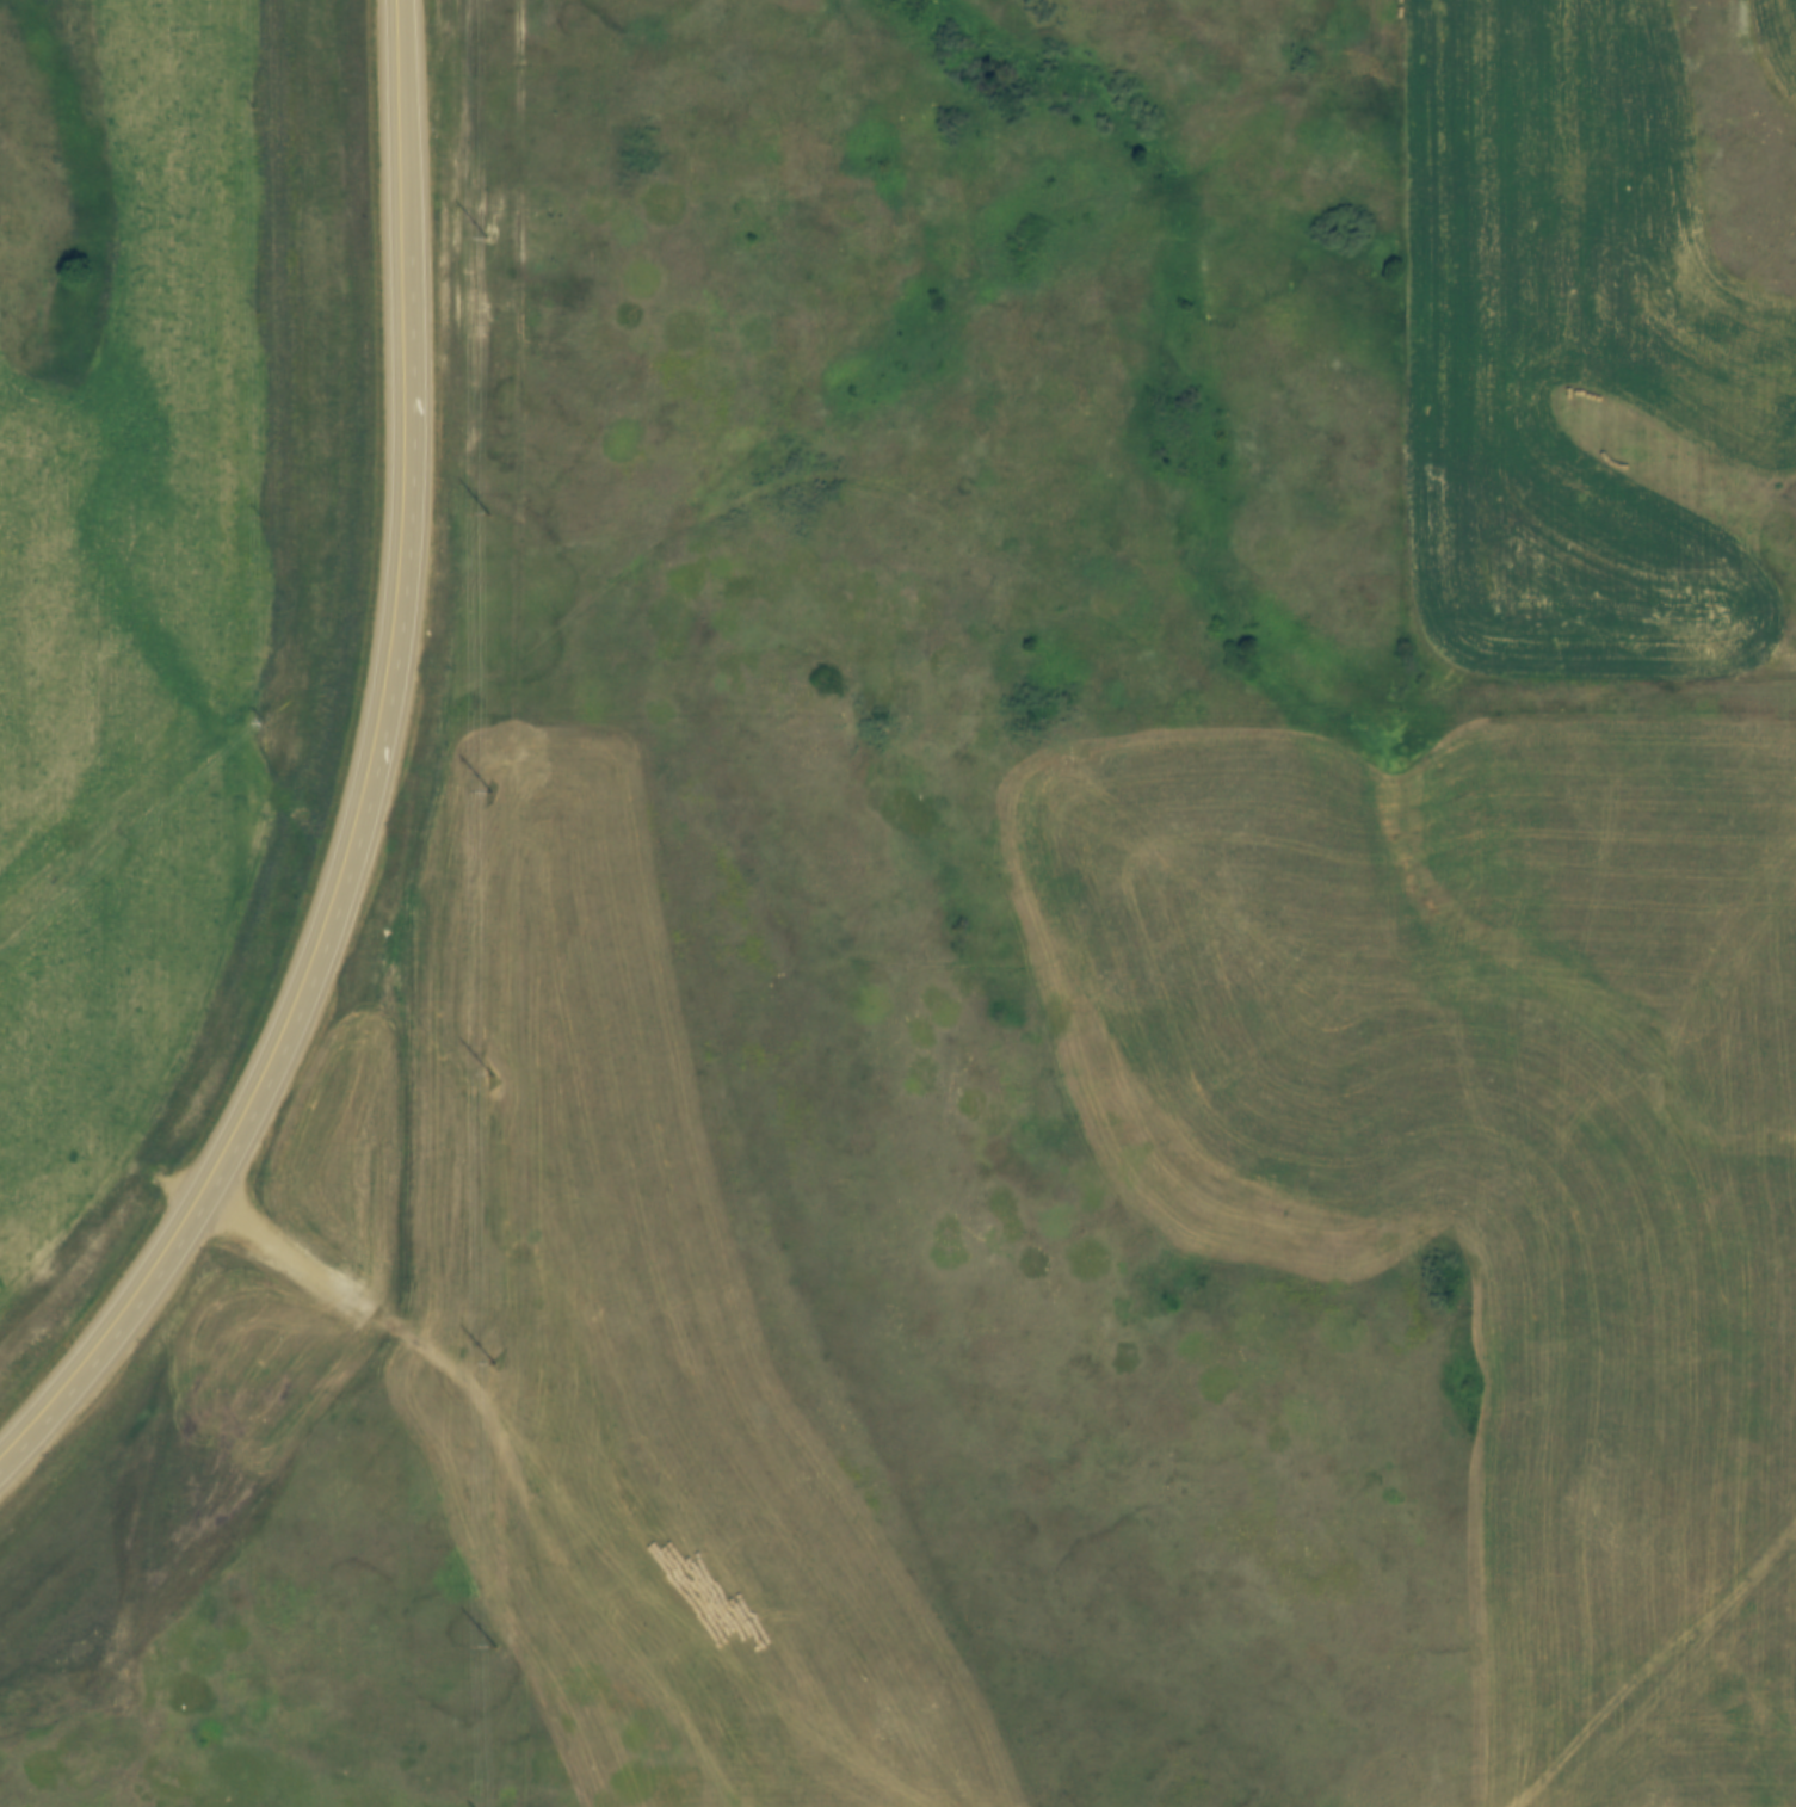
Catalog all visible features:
road: (368, 785)
road: (494, 1441)

